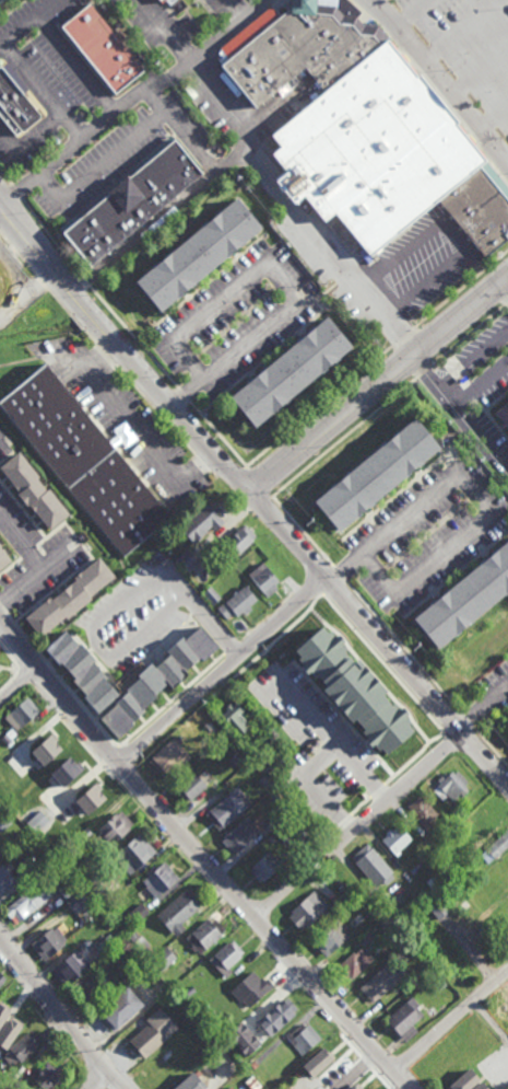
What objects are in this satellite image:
road: (2, 1)
building: (161, 1)
road: (239, 10)
road: (412, 14)
road: (28, 23)
road: (460, 31)
road: (165, 32)
road: (249, 32)
building: (99, 47)
parking lot: (465, 48)
road: (76, 66)
road: (480, 72)
road: (439, 82)
road: (430, 85)
road: (44, 92)
road: (133, 100)
building: (15, 102)
road: (493, 117)
road: (181, 131)
building: (365, 131)
road: (28, 140)
road: (102, 167)
building: (176, 167)
road: (5, 178)
road: (16, 193)
building: (135, 201)
road: (295, 213)
road: (160, 218)
road: (453, 235)
building: (91, 238)
road: (50, 239)
building: (197, 254)
road: (280, 276)
road: (84, 281)
road: (505, 286)
road: (461, 287)
road: (507, 301)
road: (469, 333)
road: (403, 335)
road: (134, 337)
road: (473, 357)
road: (424, 371)
building: (288, 372)
road: (481, 382)
road: (378, 384)
road: (184, 394)
road: (319, 405)
road: (461, 413)
building: (504, 414)
road: (217, 433)
road: (130, 435)
road: (344, 437)
building: (83, 460)
building: (375, 476)
road: (257, 482)
building: (33, 491)
road: (252, 496)
road: (483, 498)
building: (200, 524)
road: (303, 532)
building: (237, 543)
building: (2, 560)
road: (31, 561)
building: (186, 564)
road: (341, 576)
building: (263, 581)
building: (211, 595)
building: (70, 598)
building: (465, 601)
building: (237, 605)
road: (211, 626)
road: (91, 634)
road: (404, 647)
road: (44, 656)
park: (4, 668)
building: (82, 671)
road: (223, 671)
building: (156, 680)
road: (19, 686)
building: (353, 691)
road: (482, 706)
road: (305, 707)
building: (21, 714)
building: (234, 717)
road: (506, 717)
road: (465, 719)
building: (208, 725)
building: (5, 739)
building: (273, 741)
building: (40, 746)
road: (491, 746)
building: (166, 755)
building: (234, 756)
road: (319, 758)
building: (60, 769)
building: (23, 777)
building: (262, 779)
building: (188, 784)
building: (450, 784)
building: (91, 799)
building: (49, 800)
building: (226, 806)
building: (422, 810)
building: (458, 811)
building: (484, 814)
building: (2, 820)
building: (271, 822)
road: (357, 824)
building: (32, 826)
building: (113, 826)
building: (300, 829)
building: (54, 831)
building: (238, 833)
building: (281, 833)
building: (83, 834)
building: (270, 837)
building: (394, 837)
building: (427, 841)
building: (471, 845)
building: (495, 846)
building: (0, 849)
building: (132, 851)
building: (0, 855)
road: (201, 857)
building: (371, 864)
building: (264, 865)
building: (3, 870)
building: (29, 870)
building: (157, 878)
building: (461, 878)
building: (66, 888)
building: (446, 888)
building: (345, 893)
building: (99, 894)
building: (26, 901)
building: (76, 901)
building: (436, 906)
building: (306, 908)
building: (177, 910)
building: (135, 914)
building: (398, 915)
building: (357, 918)
building: (386, 919)
building: (105, 923)
building: (203, 934)
building: (133, 936)
building: (366, 936)
building: (400, 936)
building: (329, 937)
building: (47, 941)
building: (446, 946)
building: (122, 947)
building: (410, 948)
building: (147, 951)
building: (225, 957)
building: (163, 958)
building: (354, 962)
building: (70, 968)
building: (1, 978)
building: (381, 980)
building: (438, 983)
building: (250, 987)
building: (94, 988)
building: (119, 1005)
building: (3, 1012)
building: (501, 1012)
road: (61, 1013)
building: (275, 1015)
building: (404, 1018)
road: (450, 1020)
building: (222, 1029)
building: (9, 1031)
building: (154, 1031)
building: (188, 1031)
building: (302, 1038)
building: (243, 1039)
building: (486, 1043)
building: (506, 1043)
building: (22, 1046)
building: (470, 1054)
building: (321, 1063)
building: (446, 1063)
building: (165, 1065)
road: (355, 1070)
building: (47, 1076)
road: (98, 1078)
building: (466, 1080)
building: (189, 1082)
building: (480, 1086)
building: (228, 1087)
building: (355, 1087)
building: (2, 1088)

